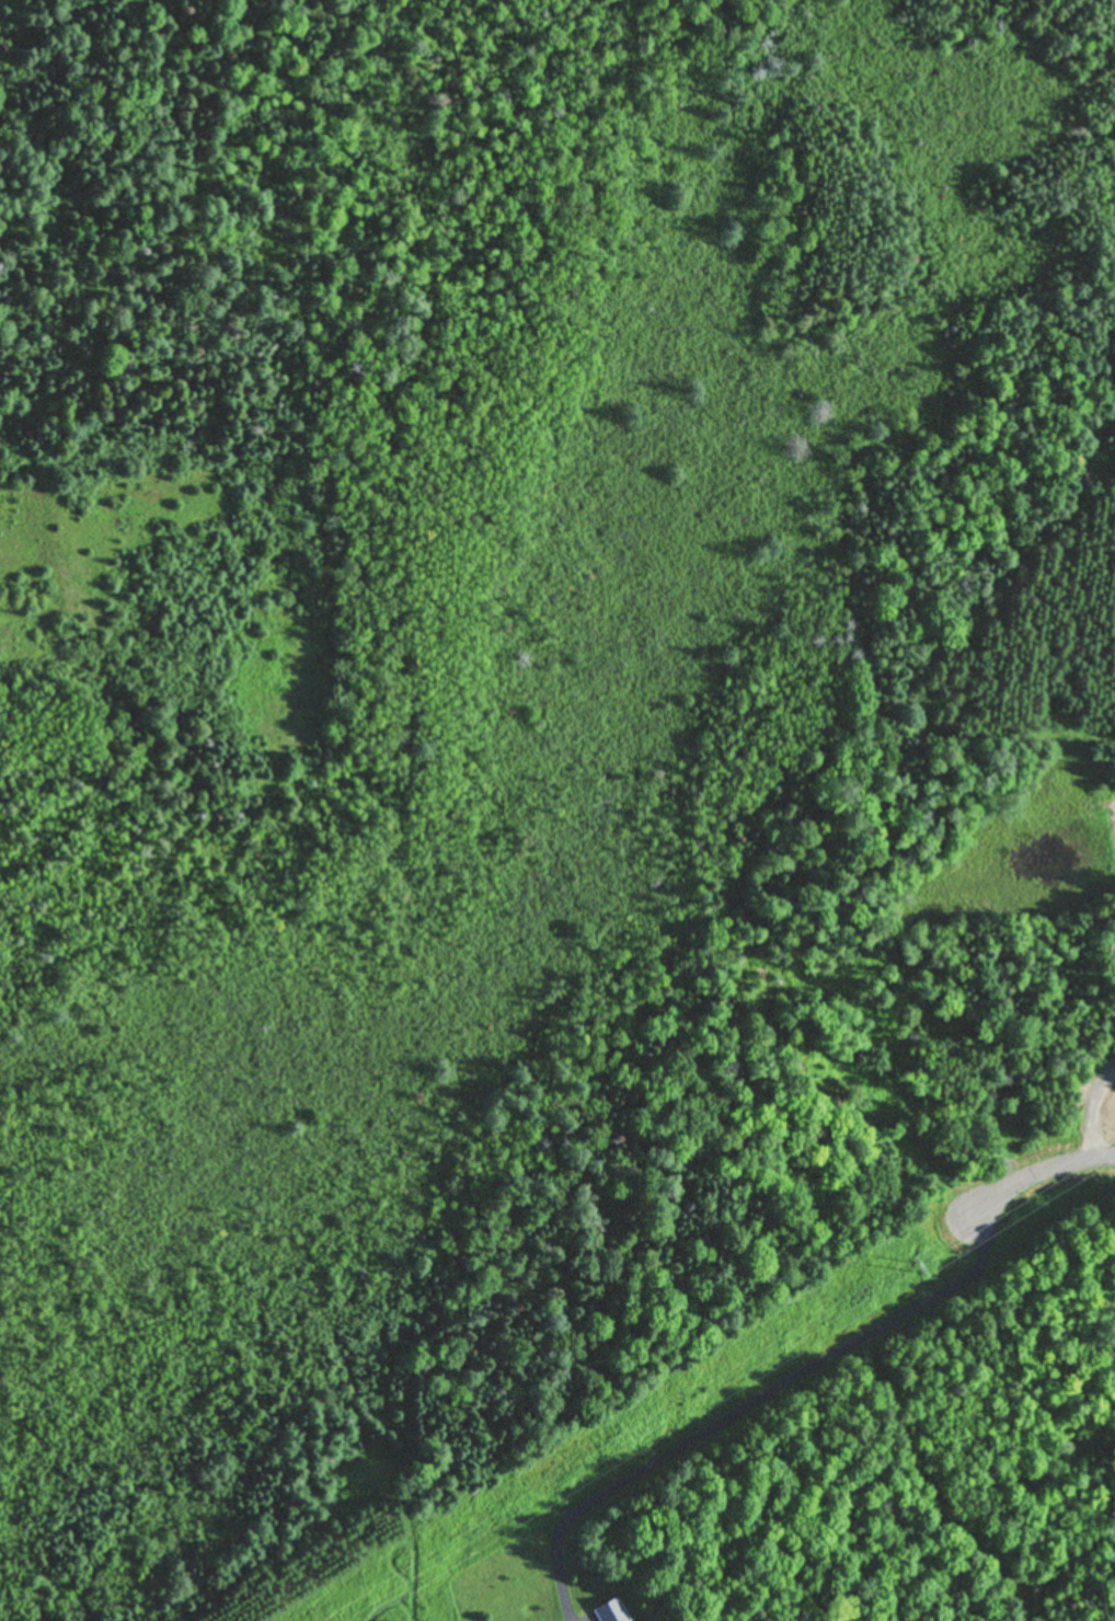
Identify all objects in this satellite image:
road: (1041, 1176)
power tower: (918, 1266)

